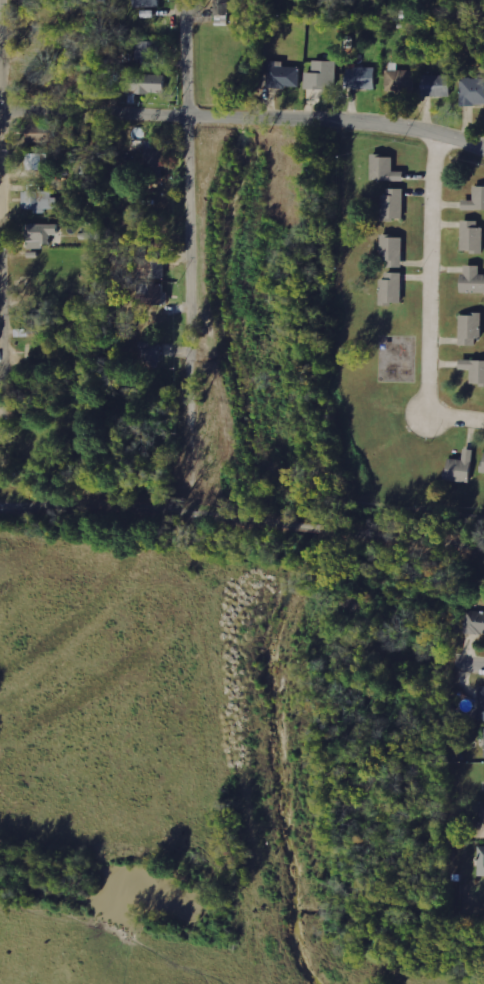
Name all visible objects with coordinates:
building: (147, 3)
building: (147, 50)
road: (0, 54)
building: (323, 75)
building: (285, 77)
building: (362, 78)
building: (399, 80)
building: (147, 83)
building: (437, 85)
building: (472, 91)
road: (243, 119)
building: (41, 133)
building: (36, 161)
building: (155, 162)
building: (386, 168)
building: (476, 199)
building: (40, 200)
road: (186, 201)
building: (394, 203)
building: (43, 234)
building: (473, 235)
building: (393, 251)
building: (150, 268)
building: (473, 279)
building: (393, 288)
building: (151, 293)
road: (427, 303)
building: (38, 323)
building: (472, 329)
building: (152, 354)
building: (475, 370)
building: (463, 467)
road: (146, 507)
park: (258, 524)
road: (308, 526)
road: (404, 536)
building: (475, 622)
road: (468, 666)
building: (481, 703)
building: (480, 827)
building: (481, 860)

